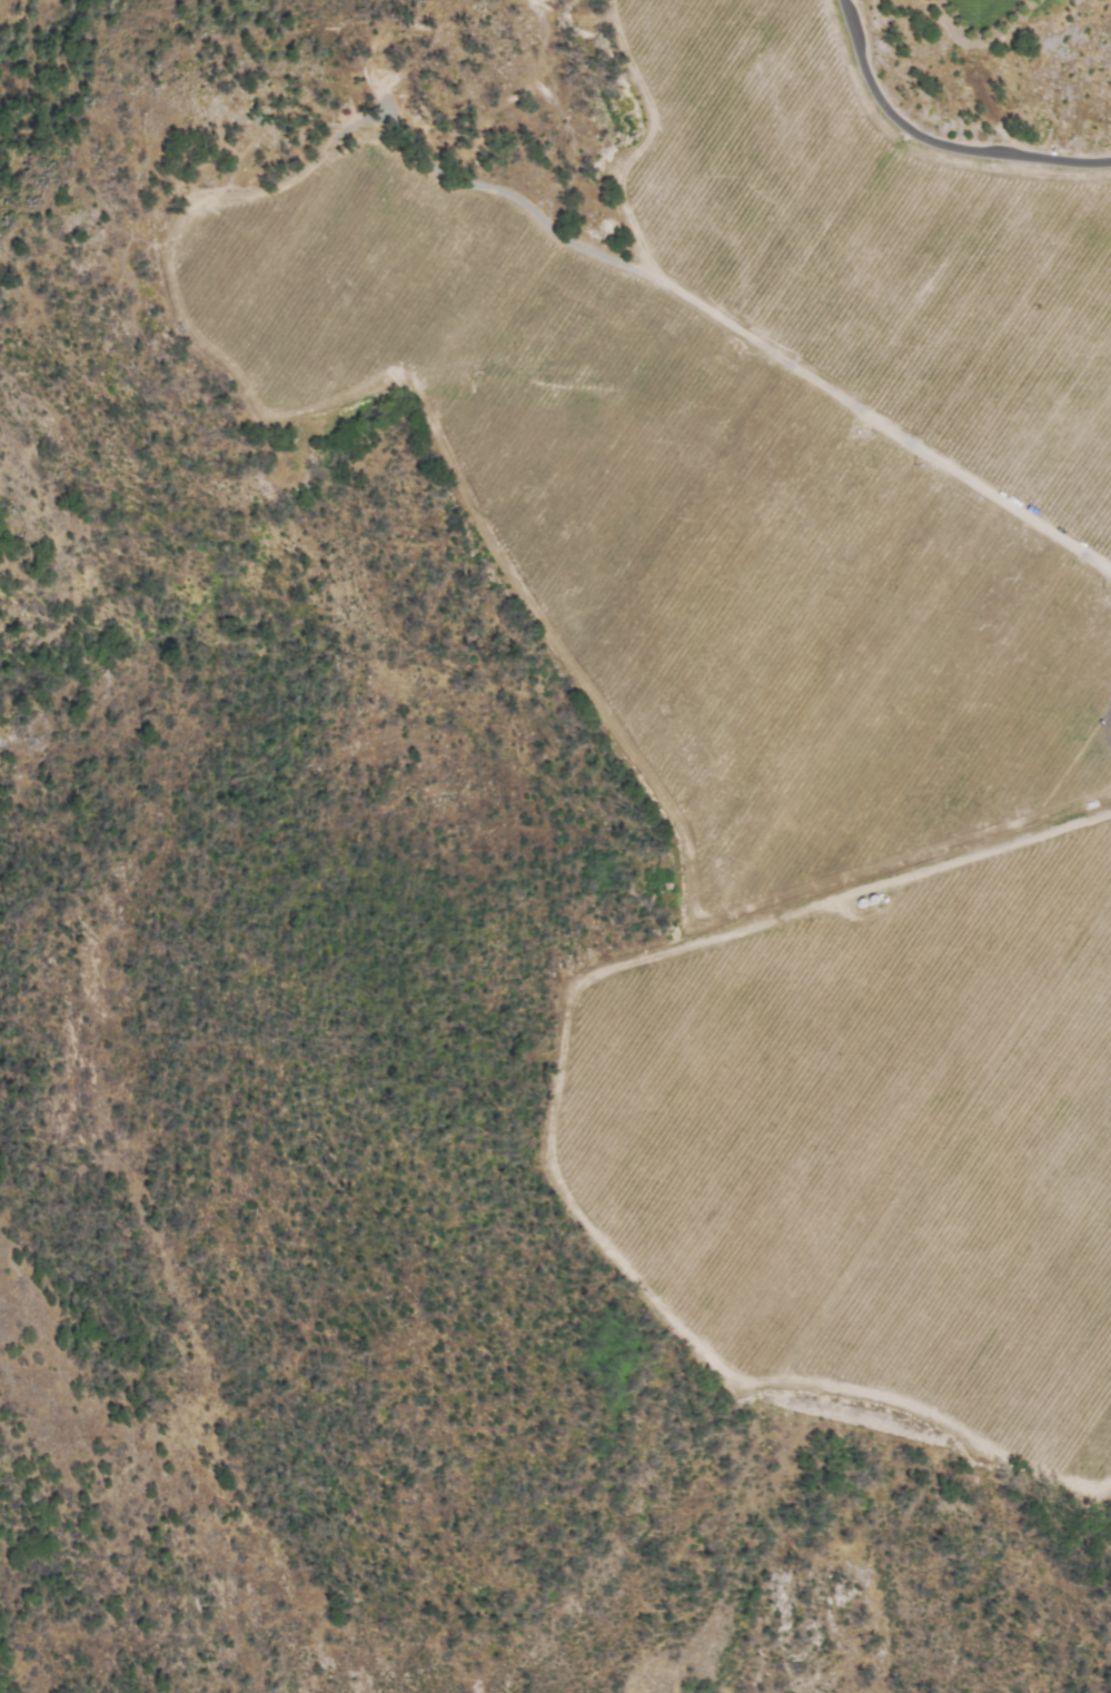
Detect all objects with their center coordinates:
road: (935, 140)

